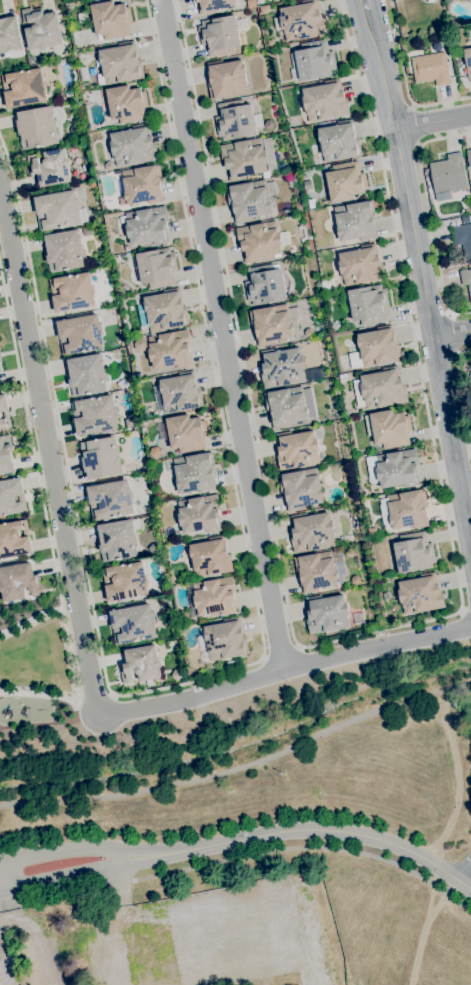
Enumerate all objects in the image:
building: (469, 0)
building: (250, 4)
building: (213, 5)
road: (365, 5)
road: (366, 5)
building: (264, 9)
building: (82, 17)
building: (111, 19)
building: (300, 21)
building: (242, 24)
building: (41, 29)
building: (9, 34)
building: (219, 35)
building: (436, 47)
building: (67, 52)
building: (457, 57)
building: (312, 61)
building: (468, 61)
building: (121, 63)
building: (431, 68)
building: (226, 79)
road: (404, 82)
building: (24, 88)
building: (65, 93)
building: (325, 101)
building: (126, 104)
building: (234, 120)
building: (258, 120)
building: (268, 124)
road: (433, 124)
building: (36, 128)
building: (73, 129)
building: (339, 141)
building: (133, 145)
building: (243, 158)
building: (469, 158)
building: (109, 166)
building: (50, 167)
building: (281, 168)
road: (402, 172)
building: (448, 174)
building: (345, 181)
building: (142, 184)
building: (248, 200)
building: (57, 209)
road: (428, 214)
building: (465, 219)
building: (355, 220)
building: (147, 226)
building: (463, 238)
building: (260, 241)
building: (64, 250)
building: (98, 262)
building: (358, 266)
building: (157, 267)
building: (265, 284)
building: (466, 284)
building: (325, 285)
building: (73, 292)
building: (368, 304)
road: (407, 307)
building: (162, 311)
building: (273, 323)
building: (308, 332)
building: (80, 333)
road: (452, 333)
road: (454, 333)
road: (221, 334)
building: (140, 344)
building: (378, 347)
building: (169, 348)
building: (0, 357)
building: (0, 367)
building: (281, 367)
building: (86, 374)
building: (468, 388)
building: (380, 389)
road: (463, 391)
building: (178, 392)
road: (249, 403)
building: (290, 405)
building: (150, 409)
building: (3, 411)
building: (95, 414)
building: (130, 422)
building: (388, 428)
building: (187, 432)
road: (452, 438)
building: (297, 449)
building: (155, 452)
building: (6, 455)
building: (100, 457)
road: (50, 459)
building: (132, 468)
building: (394, 469)
building: (194, 473)
road: (39, 485)
building: (301, 488)
building: (12, 496)
building: (110, 499)
building: (405, 509)
building: (199, 514)
building: (170, 531)
building: (312, 531)
building: (13, 539)
building: (118, 539)
building: (152, 548)
building: (414, 552)
building: (210, 557)
building: (319, 570)
building: (125, 581)
building: (19, 582)
building: (420, 594)
building: (214, 596)
road: (467, 609)
building: (327, 613)
road: (30, 620)
building: (133, 623)
building: (224, 639)
road: (279, 654)
building: (141, 663)
road: (236, 667)
park: (35, 669)
road: (285, 669)
building: (177, 674)
road: (39, 696)
road: (241, 768)
road: (331, 830)
road: (307, 845)
road: (57, 849)
road: (148, 850)
road: (118, 855)
road: (150, 858)
road: (465, 871)
road: (62, 876)
road: (123, 876)
road: (2, 881)
road: (123, 881)
road: (2, 890)
road: (69, 893)
road: (6, 899)
road: (11, 905)
road: (148, 919)
building: (309, 930)
road: (36, 931)
parking lot: (235, 932)
road: (102, 936)
building: (318, 971)
road: (1, 979)

